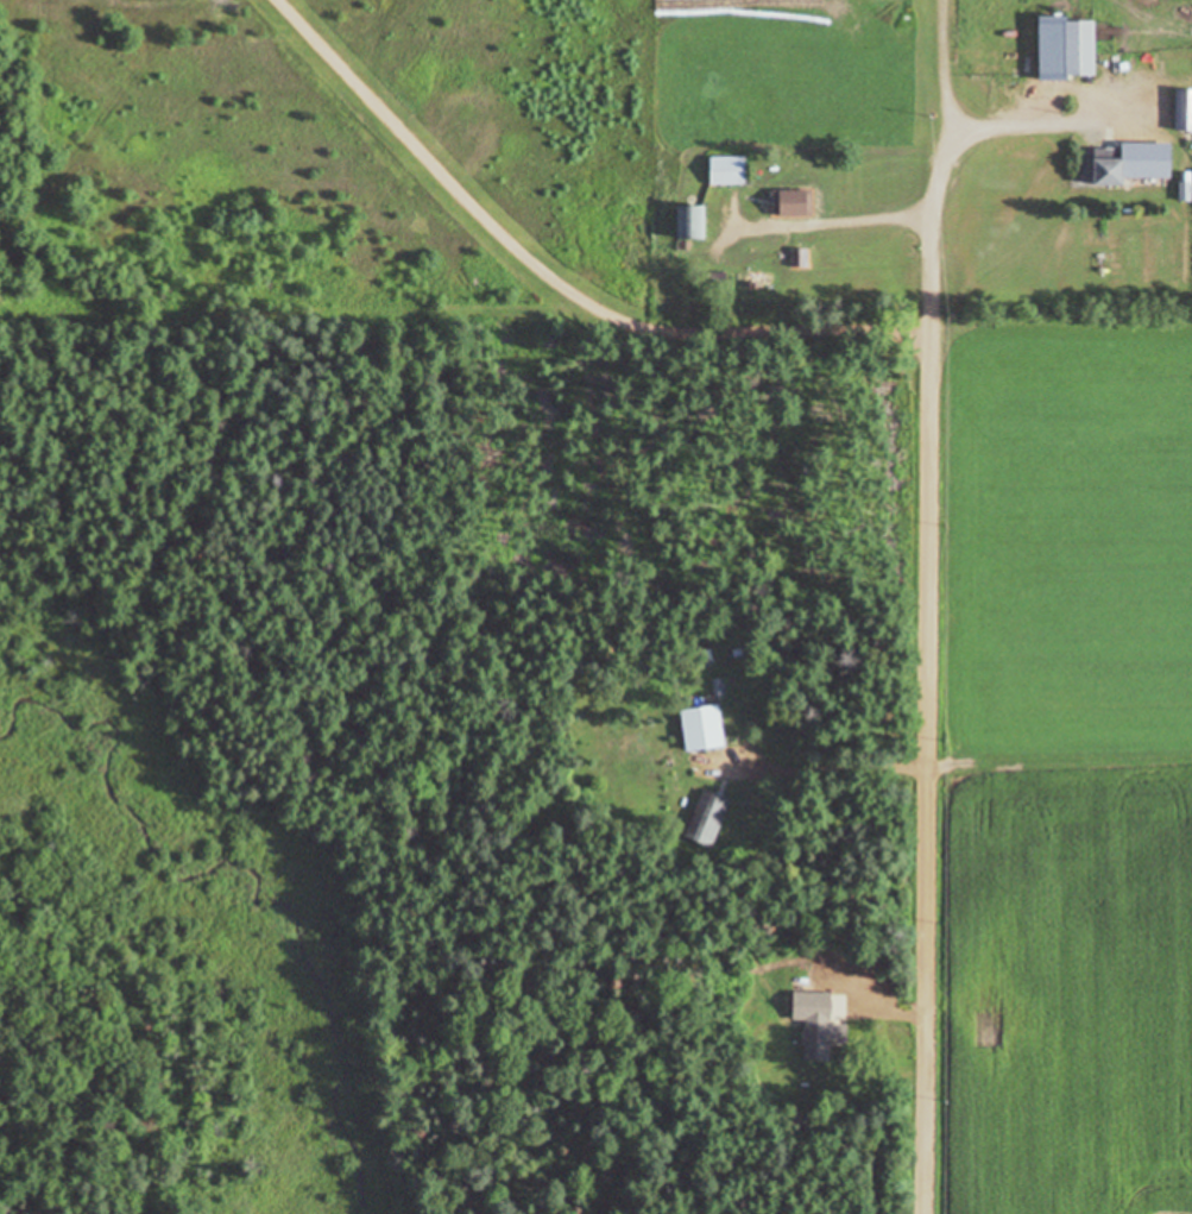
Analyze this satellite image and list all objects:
building: (1071, 46)
building: (1185, 108)
building: (1111, 166)
building: (729, 169)
building: (794, 202)
building: (693, 220)
building: (799, 257)
road: (926, 724)
building: (704, 726)
building: (706, 817)
building: (813, 1031)

